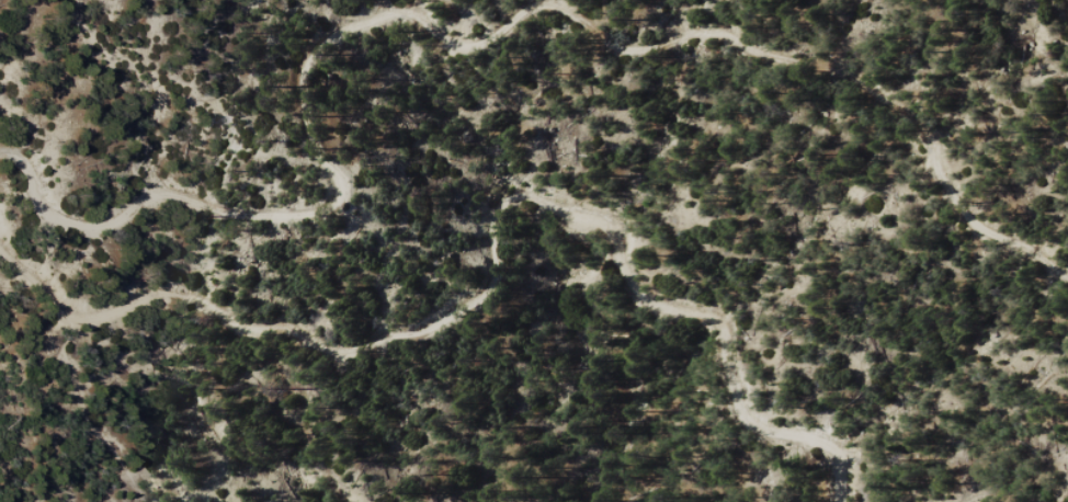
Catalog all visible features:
road: (474, 42)
road: (491, 248)

